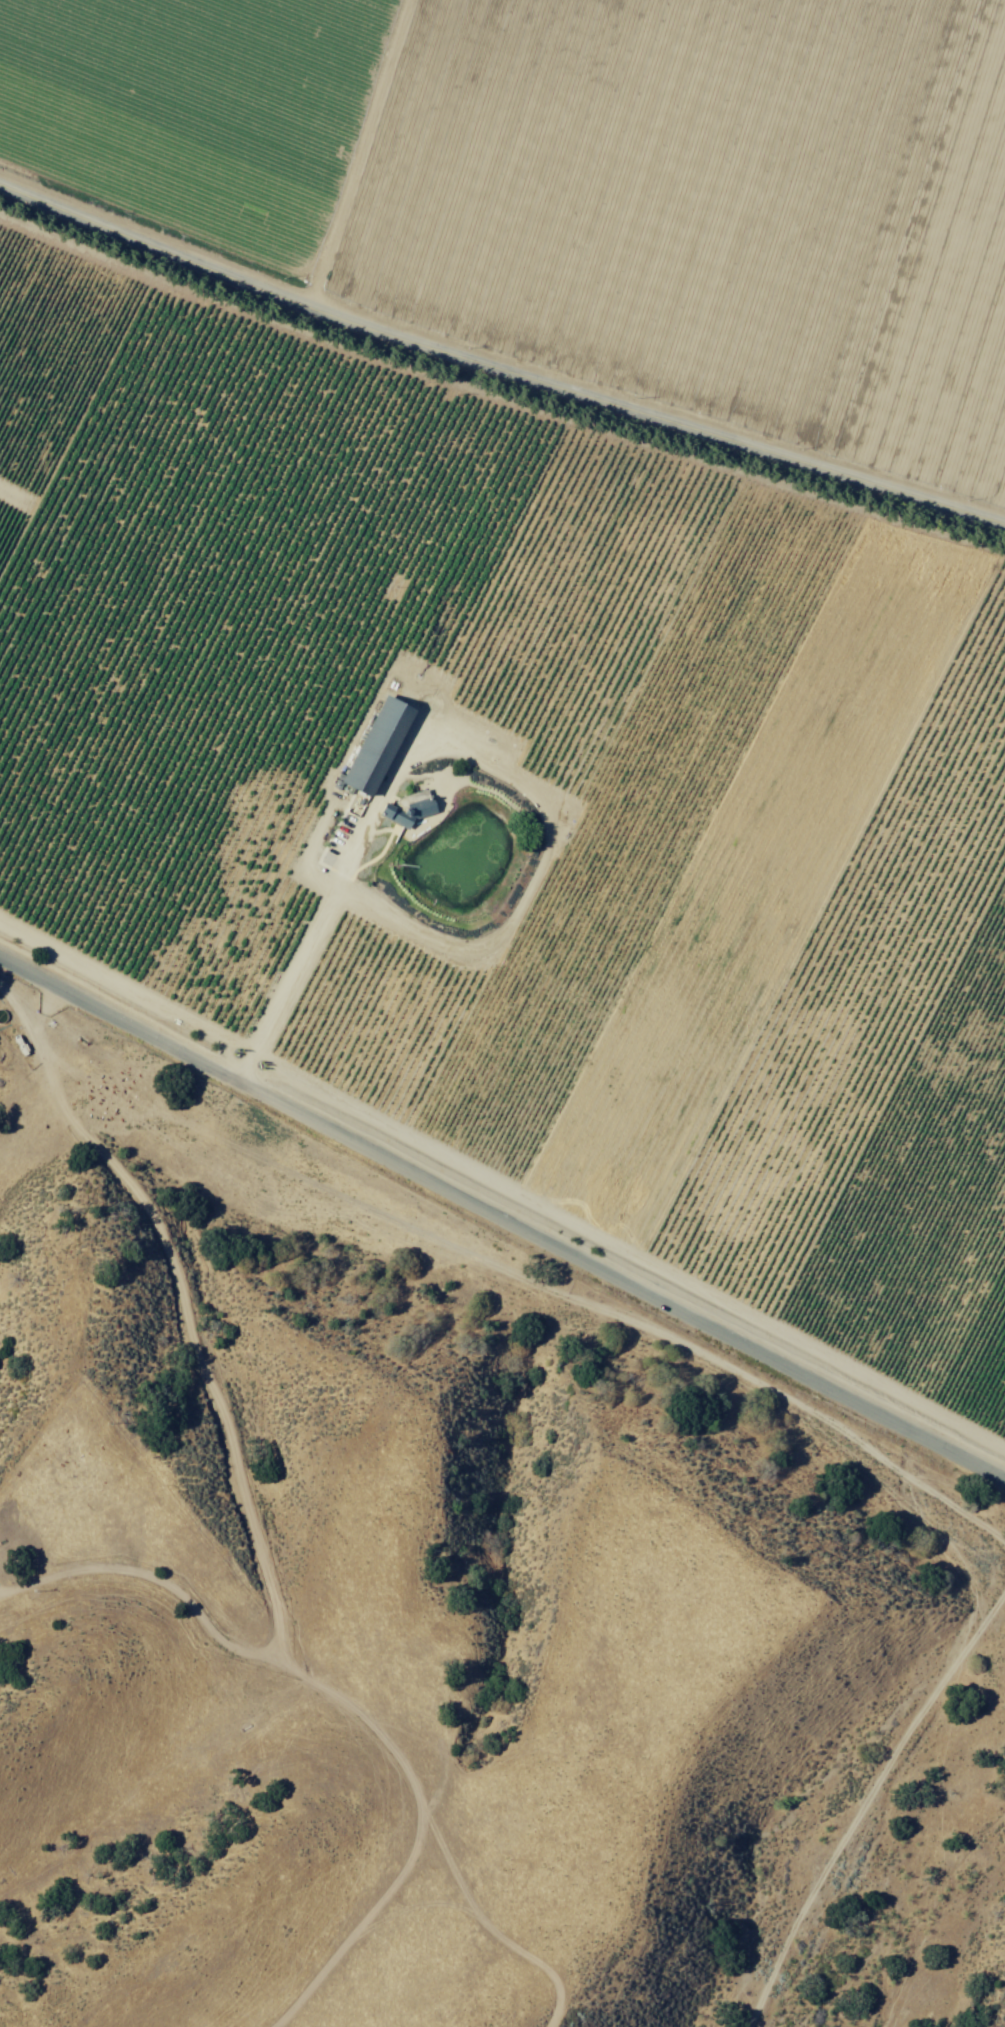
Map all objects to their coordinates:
road: (496, 367)
building: (381, 745)
building: (410, 807)
building: (3, 1015)
road: (502, 1219)
road: (351, 1602)

